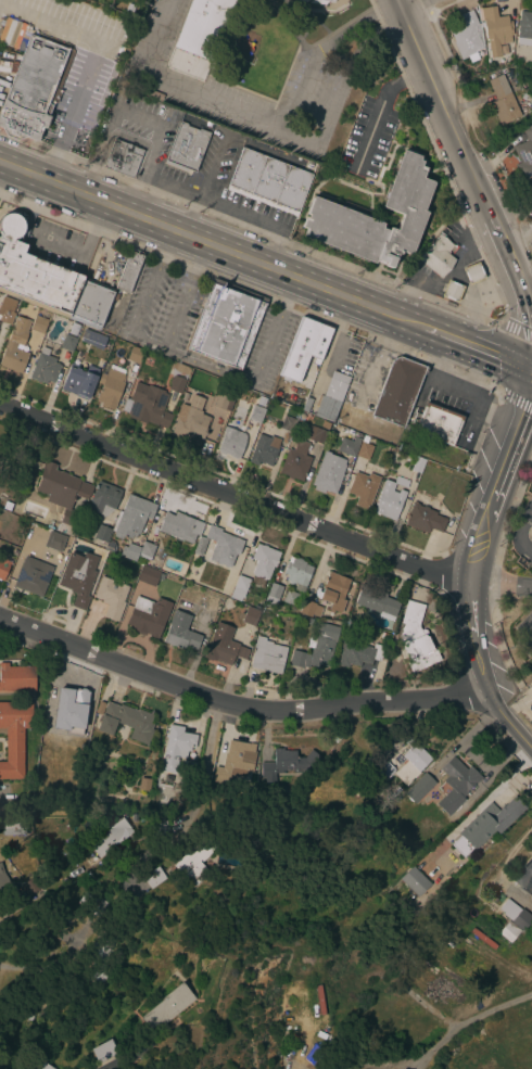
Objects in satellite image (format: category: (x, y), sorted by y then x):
building: (327, 1)
road: (404, 3)
road: (387, 9)
parking lot: (72, 25)
building: (494, 26)
building: (202, 27)
building: (523, 28)
building: (10, 33)
building: (467, 37)
road: (102, 46)
parking lot: (161, 79)
road: (400, 84)
building: (33, 86)
gas station: (33, 86)
road: (178, 86)
parking lot: (83, 91)
building: (528, 97)
building: (502, 100)
road: (442, 109)
road: (139, 118)
parking lot: (140, 130)
road: (106, 133)
road: (302, 139)
road: (366, 139)
parking lot: (366, 140)
building: (187, 148)
building: (524, 154)
building: (122, 158)
road: (58, 166)
road: (213, 166)
road: (148, 178)
building: (268, 181)
road: (135, 184)
building: (530, 184)
parking lot: (221, 186)
road: (177, 190)
road: (150, 200)
building: (404, 208)
road: (239, 212)
road: (190, 216)
road: (91, 229)
parking lot: (455, 231)
road: (103, 241)
road: (212, 244)
parking lot: (55, 245)
road: (56, 246)
road: (274, 246)
building: (436, 255)
gas station: (436, 255)
road: (506, 255)
parking lot: (104, 264)
building: (129, 270)
building: (33, 272)
building: (472, 272)
road: (288, 290)
building: (451, 291)
road: (527, 292)
building: (113, 296)
road: (528, 303)
building: (90, 305)
parking lot: (161, 308)
building: (5, 316)
building: (38, 324)
building: (225, 324)
building: (73, 329)
road: (514, 329)
road: (436, 332)
building: (92, 339)
road: (333, 340)
building: (68, 343)
road: (148, 343)
road: (266, 343)
building: (14, 347)
parking lot: (266, 349)
building: (304, 349)
road: (490, 353)
building: (135, 355)
parking lot: (346, 355)
road: (439, 358)
road: (375, 361)
road: (204, 367)
building: (43, 369)
building: (179, 369)
parking lot: (364, 379)
building: (79, 381)
building: (176, 384)
building: (110, 385)
building: (396, 390)
road: (457, 391)
building: (331, 396)
building: (220, 402)
road: (514, 402)
parking lot: (454, 404)
building: (147, 405)
road: (524, 406)
road: (501, 412)
building: (256, 413)
building: (190, 422)
building: (436, 423)
building: (288, 424)
building: (325, 424)
building: (315, 434)
building: (231, 443)
building: (264, 446)
building: (349, 446)
building: (364, 448)
road: (503, 460)
building: (295, 461)
building: (417, 464)
building: (328, 473)
parking lot: (531, 474)
building: (363, 488)
road: (232, 493)
building: (62, 496)
building: (390, 498)
building: (103, 499)
building: (7, 506)
road: (484, 508)
building: (132, 516)
building: (423, 519)
building: (180, 526)
building: (531, 527)
building: (101, 533)
road: (517, 533)
building: (55, 540)
building: (110, 546)
building: (200, 546)
building: (223, 546)
road: (473, 547)
building: (145, 549)
building: (129, 551)
building: (263, 562)
building: (3, 568)
building: (296, 573)
building: (33, 576)
building: (149, 576)
building: (78, 577)
road: (499, 585)
building: (239, 587)
building: (333, 591)
building: (273, 595)
building: (110, 597)
building: (290, 598)
building: (377, 602)
road: (468, 607)
building: (309, 609)
building: (148, 616)
building: (250, 616)
parking lot: (525, 627)
building: (180, 632)
road: (531, 636)
building: (414, 637)
building: (384, 638)
building: (224, 646)
building: (316, 648)
building: (358, 653)
building: (266, 656)
road: (481, 662)
building: (16, 678)
building: (531, 697)
building: (68, 700)
road: (237, 707)
building: (100, 708)
road: (506, 721)
building: (125, 722)
building: (13, 737)
building: (175, 748)
building: (41, 752)
building: (235, 761)
building: (411, 762)
road: (203, 763)
building: (288, 763)
building: (189, 767)
building: (384, 772)
building: (143, 784)
building: (456, 784)
building: (419, 787)
building: (490, 822)
building: (161, 828)
building: (13, 829)
building: (110, 837)
building: (193, 862)
building: (523, 876)
building: (153, 877)
building: (2, 879)
building: (414, 881)
building: (90, 903)
building: (516, 916)
building: (508, 931)
building: (97, 952)
road: (43, 965)
building: (96, 972)
building: (166, 1007)
road: (429, 1008)
building: (28, 1013)
road: (457, 1026)
building: (102, 1051)
building: (313, 1055)
building: (42, 1066)
road: (295, 1067)
road: (366, 1068)

